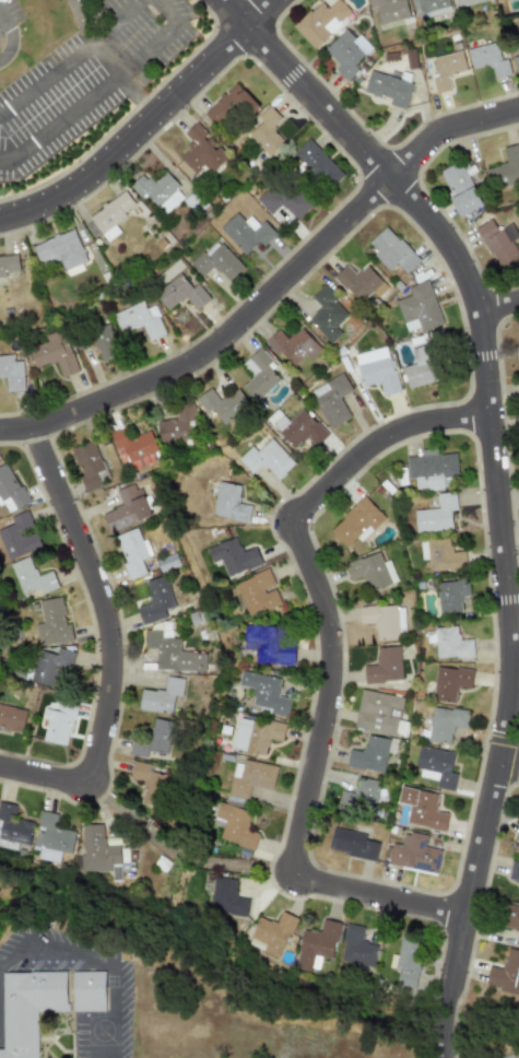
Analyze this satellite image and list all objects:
building: (465, 2)
building: (428, 7)
building: (389, 10)
building: (321, 22)
road: (113, 24)
road: (8, 37)
building: (517, 46)
building: (346, 52)
building: (487, 58)
road: (62, 64)
building: (446, 70)
road: (102, 89)
building: (388, 89)
road: (135, 96)
building: (231, 106)
road: (148, 124)
building: (267, 132)
building: (201, 153)
building: (318, 164)
building: (505, 167)
building: (460, 188)
building: (158, 191)
building: (284, 200)
building: (110, 215)
building: (246, 232)
building: (496, 244)
building: (59, 250)
building: (391, 250)
building: (217, 261)
building: (8, 264)
building: (358, 282)
road: (272, 291)
building: (180, 293)
road: (500, 306)
building: (418, 308)
building: (327, 314)
building: (139, 319)
building: (104, 342)
building: (292, 345)
building: (52, 353)
building: (518, 355)
building: (421, 367)
building: (376, 369)
building: (11, 373)
building: (260, 374)
building: (331, 399)
building: (216, 405)
building: (177, 425)
building: (296, 428)
building: (266, 459)
building: (86, 465)
building: (430, 469)
road: (496, 483)
building: (9, 490)
building: (228, 503)
building: (126, 508)
building: (437, 515)
building: (355, 522)
building: (17, 536)
building: (131, 551)
building: (444, 555)
building: (233, 556)
building: (370, 571)
building: (31, 577)
building: (256, 592)
building: (451, 595)
building: (154, 601)
building: (384, 621)
building: (51, 622)
road: (113, 642)
building: (267, 644)
building: (451, 644)
building: (172, 653)
building: (49, 666)
building: (384, 666)
road: (330, 667)
building: (451, 683)
building: (262, 692)
building: (161, 696)
building: (378, 713)
building: (11, 719)
building: (57, 724)
building: (446, 724)
building: (253, 734)
building: (153, 739)
building: (370, 755)
building: (437, 765)
road: (509, 767)
building: (248, 777)
building: (146, 783)
building: (364, 796)
building: (423, 810)
building: (233, 825)
building: (13, 827)
building: (51, 834)
building: (517, 839)
building: (102, 853)
road: (179, 855)
building: (414, 855)
building: (514, 872)
building: (518, 894)
building: (224, 896)
building: (510, 919)
building: (270, 934)
building: (316, 945)
building: (355, 947)
road: (80, 952)
building: (405, 961)
building: (505, 973)
building: (45, 1001)
road: (107, 1035)

